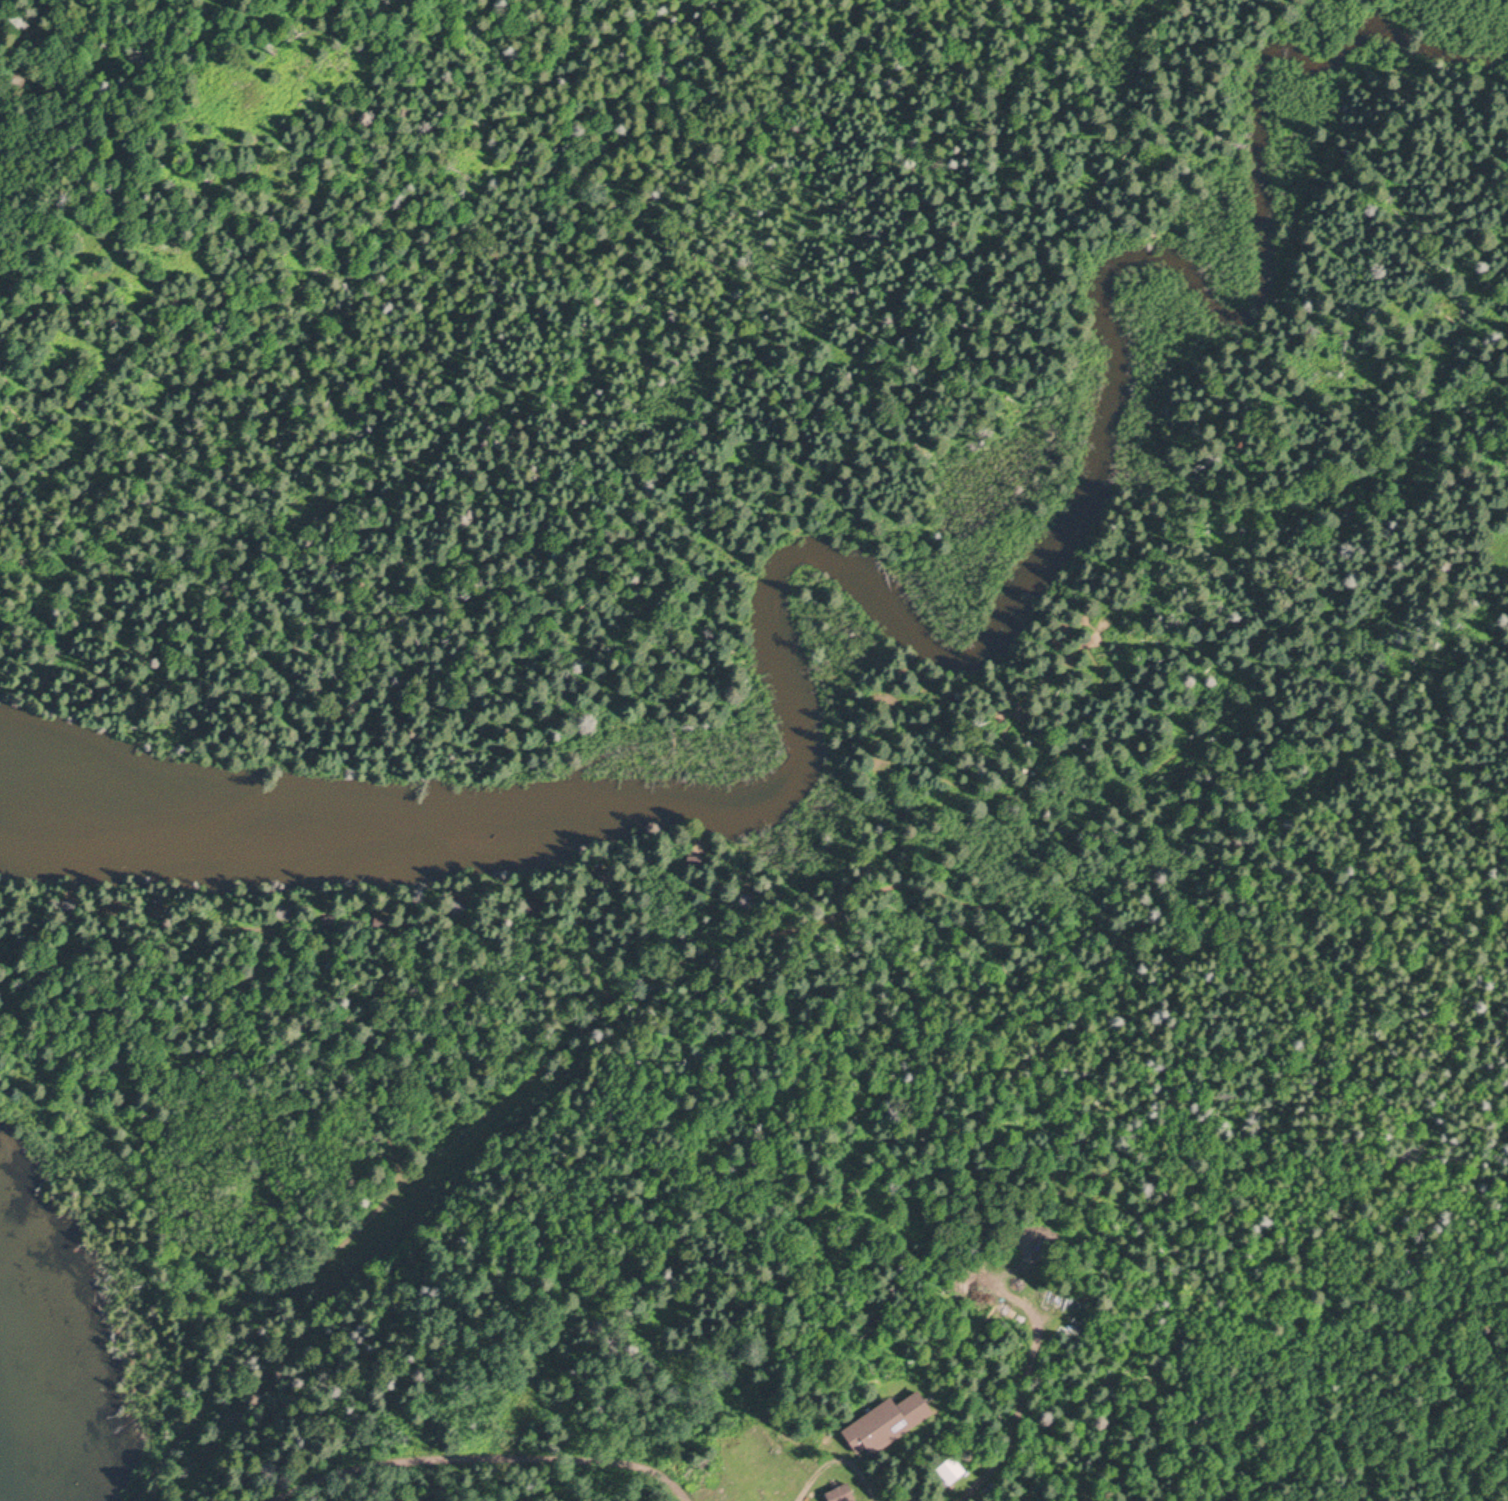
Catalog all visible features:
road: (181, 162)
road: (1460, 584)
road: (789, 926)
road: (341, 1050)
road: (1030, 1397)
road: (510, 1419)
building: (889, 1421)
building: (969, 1453)
building: (952, 1469)
building: (843, 1493)

